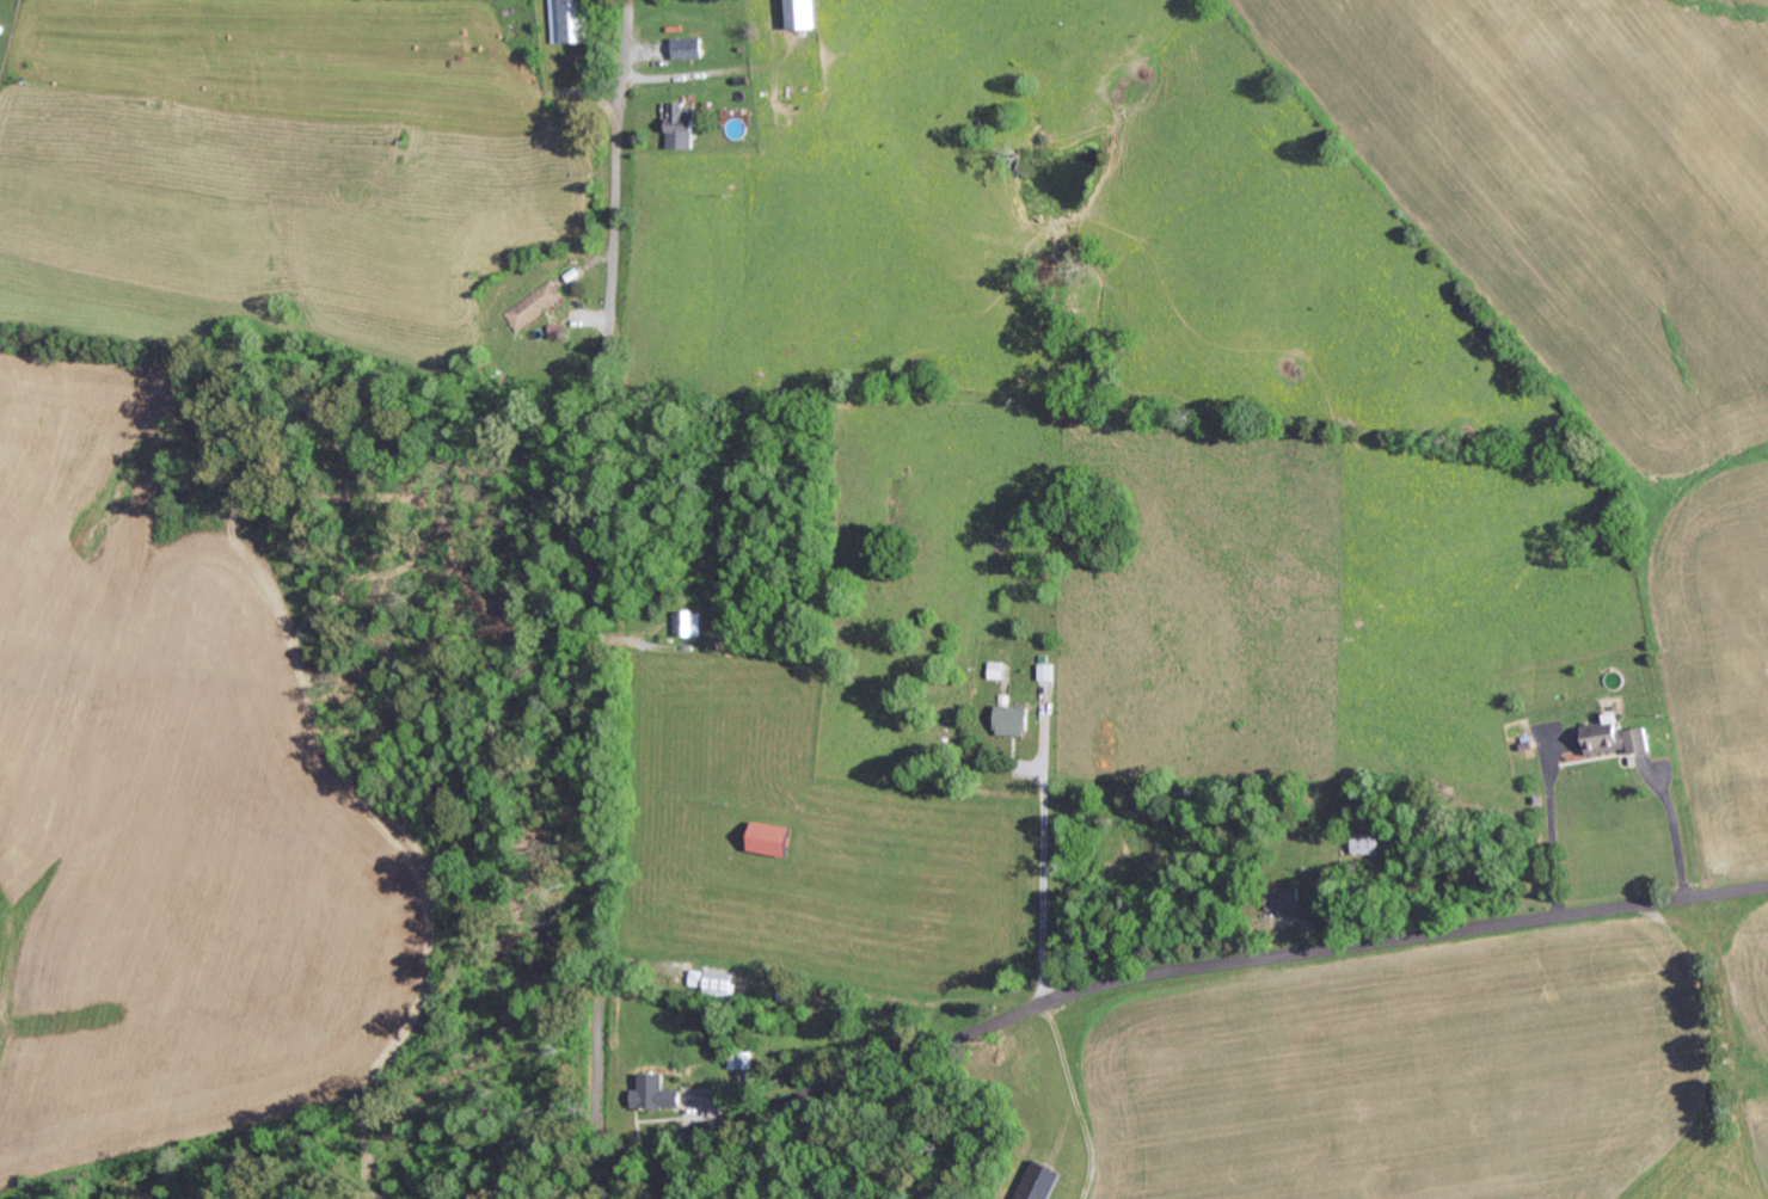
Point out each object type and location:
building: (810, 14)
building: (575, 20)
building: (690, 48)
building: (686, 125)
building: (535, 306)
building: (559, 332)
road: (604, 591)
building: (996, 670)
building: (1049, 672)
building: (1015, 721)
building: (1619, 738)
building: (780, 838)
road: (1152, 974)
building: (716, 982)
building: (662, 1093)
building: (1043, 1181)

